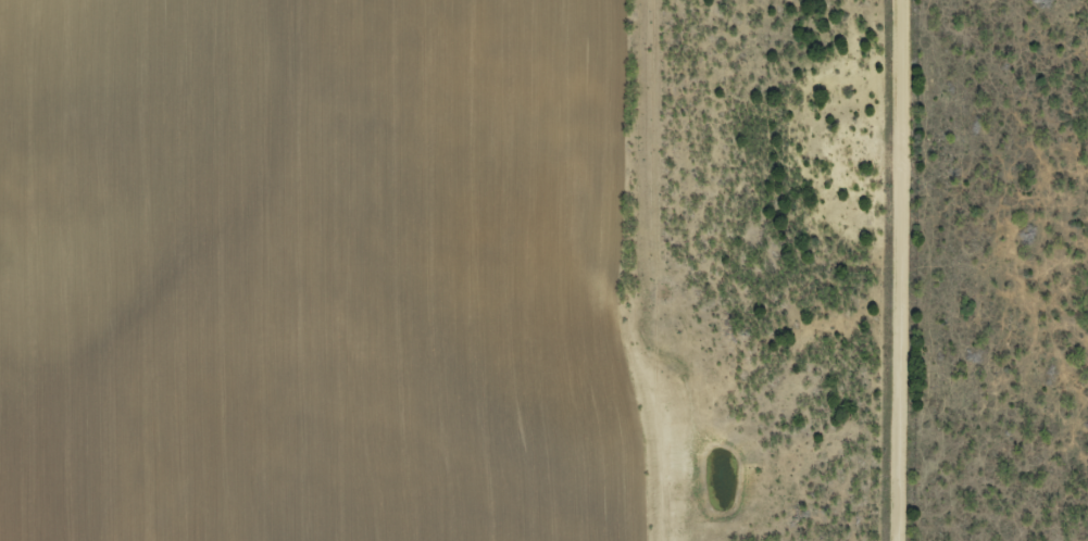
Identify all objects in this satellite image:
road: (906, 270)

